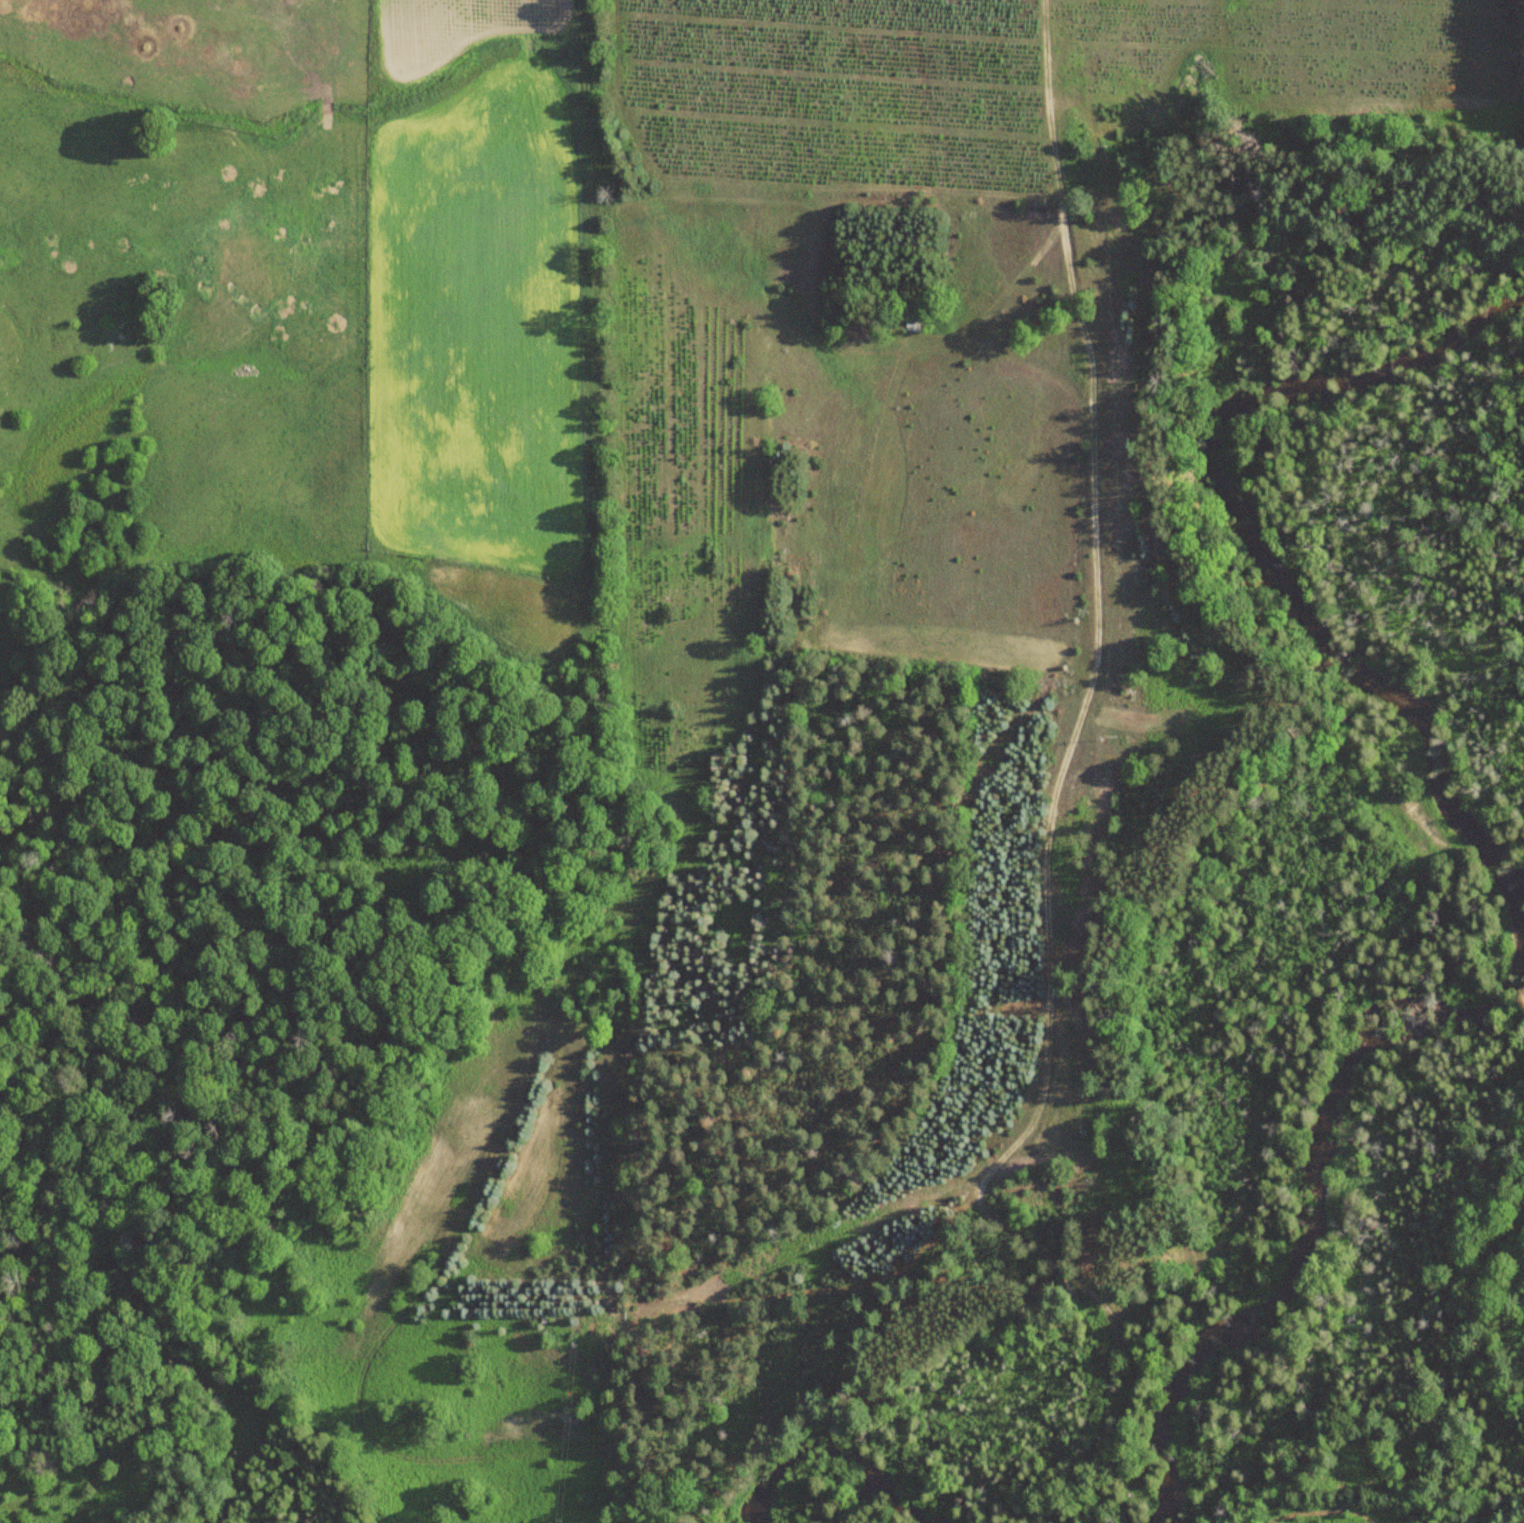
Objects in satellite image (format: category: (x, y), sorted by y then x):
river: (1482, 852)
river: (841, 1456)

